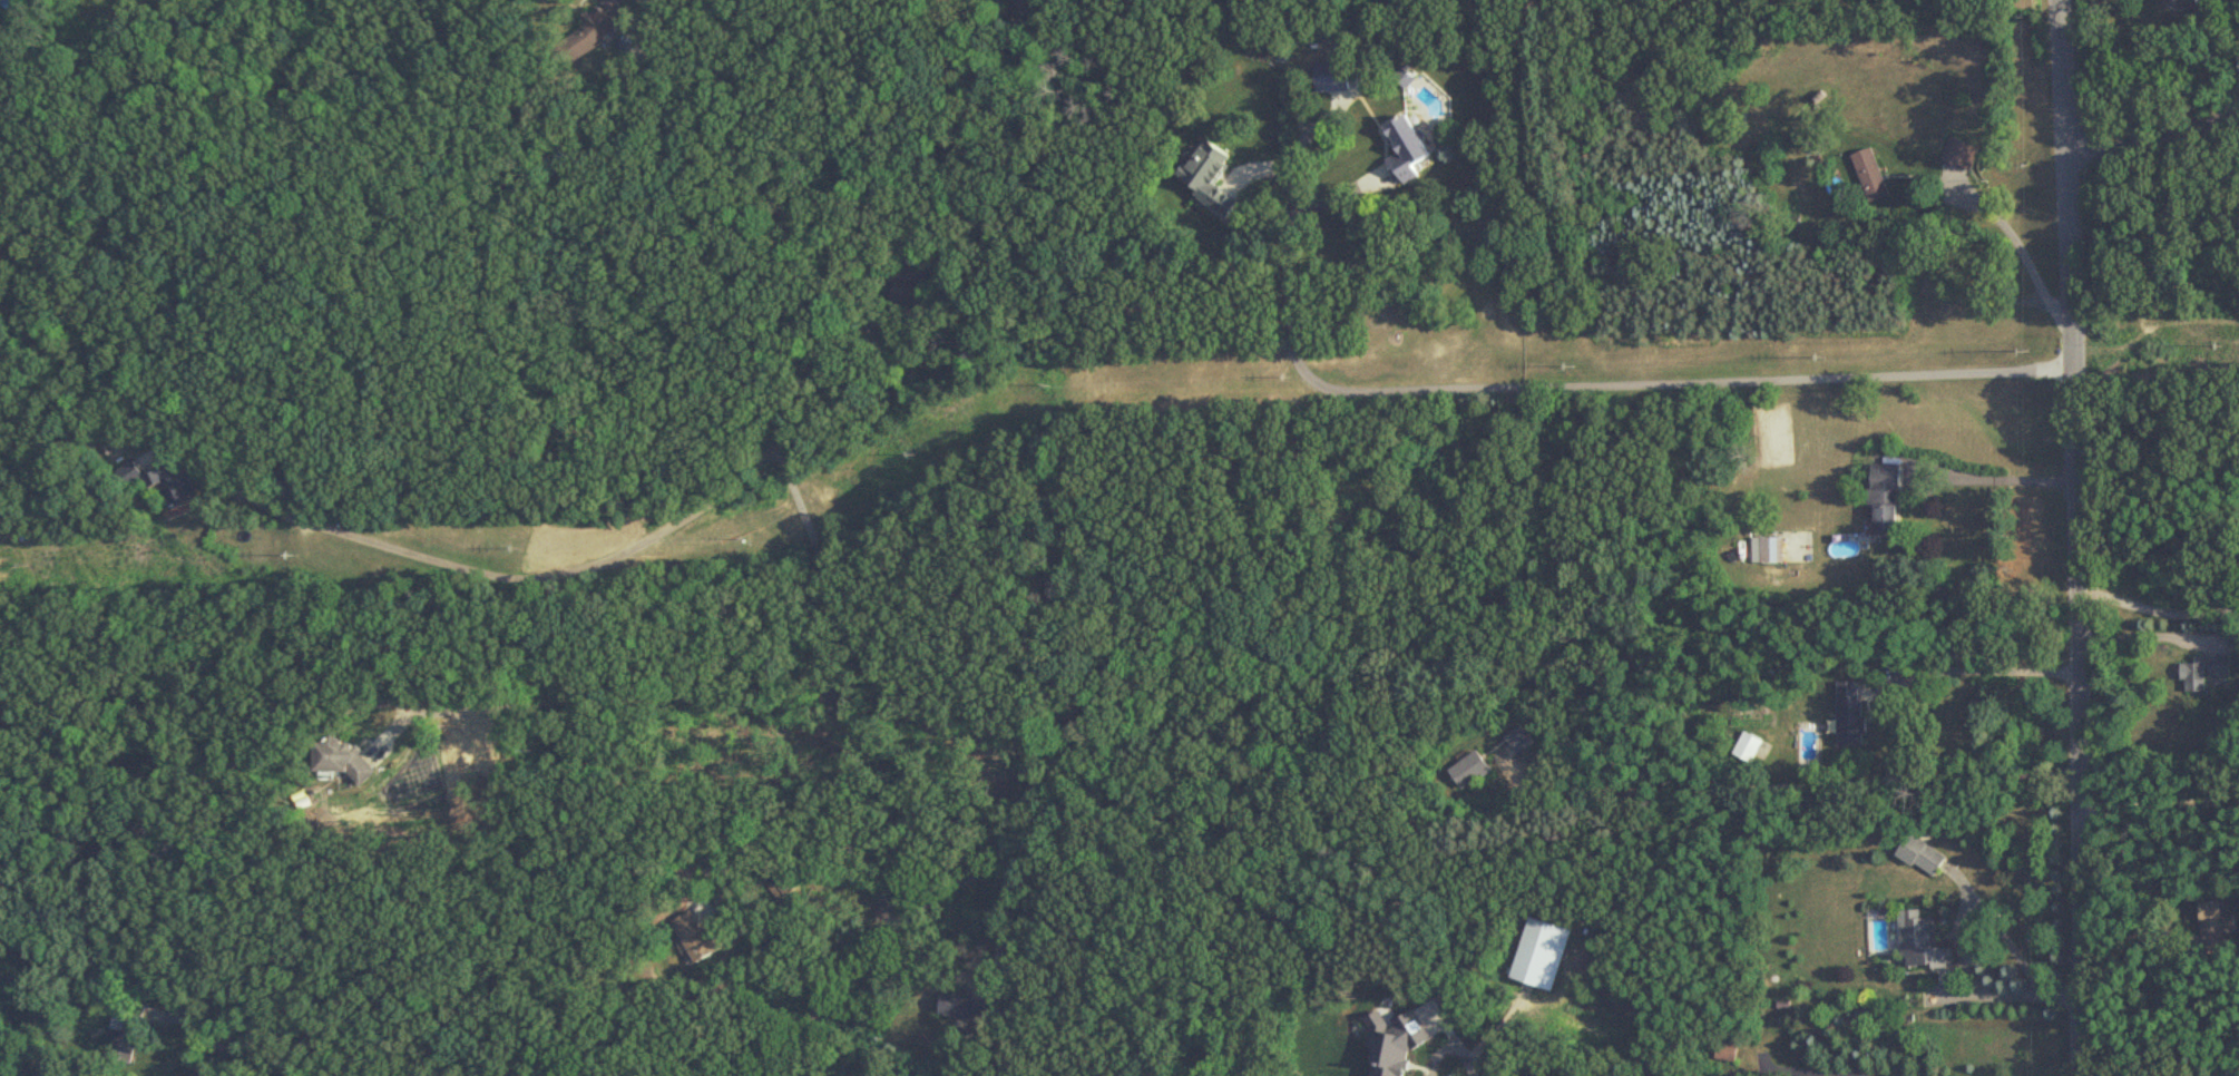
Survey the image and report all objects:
building: (2189, 3)
building: (1023, 13)
building: (590, 32)
building: (1330, 77)
building: (1738, 110)
road: (2153, 136)
road: (913, 140)
building: (1406, 149)
building: (1956, 153)
building: (554, 162)
building: (1869, 175)
building: (1208, 176)
road: (1331, 196)
road: (2017, 244)
building: (908, 297)
road: (1587, 373)
road: (2000, 476)
building: (167, 488)
building: (285, 492)
road: (724, 492)
building: (1885, 499)
road: (2074, 537)
building: (1772, 549)
road: (2157, 604)
road: (1976, 669)
building: (2203, 672)
road: (725, 695)
building: (1849, 714)
building: (1522, 740)
building: (1748, 747)
building: (339, 757)
building: (1472, 771)
road: (2160, 802)
road: (781, 832)
building: (1920, 854)
road: (996, 869)
building: (2214, 925)
building: (695, 938)
building: (1923, 941)
road: (2016, 953)
road: (828, 1004)
building: (968, 1007)
building: (125, 1033)
road: (1449, 1044)
road: (245, 1045)
building: (1728, 1050)
building: (2225, 1068)
road: (1825, 1070)

